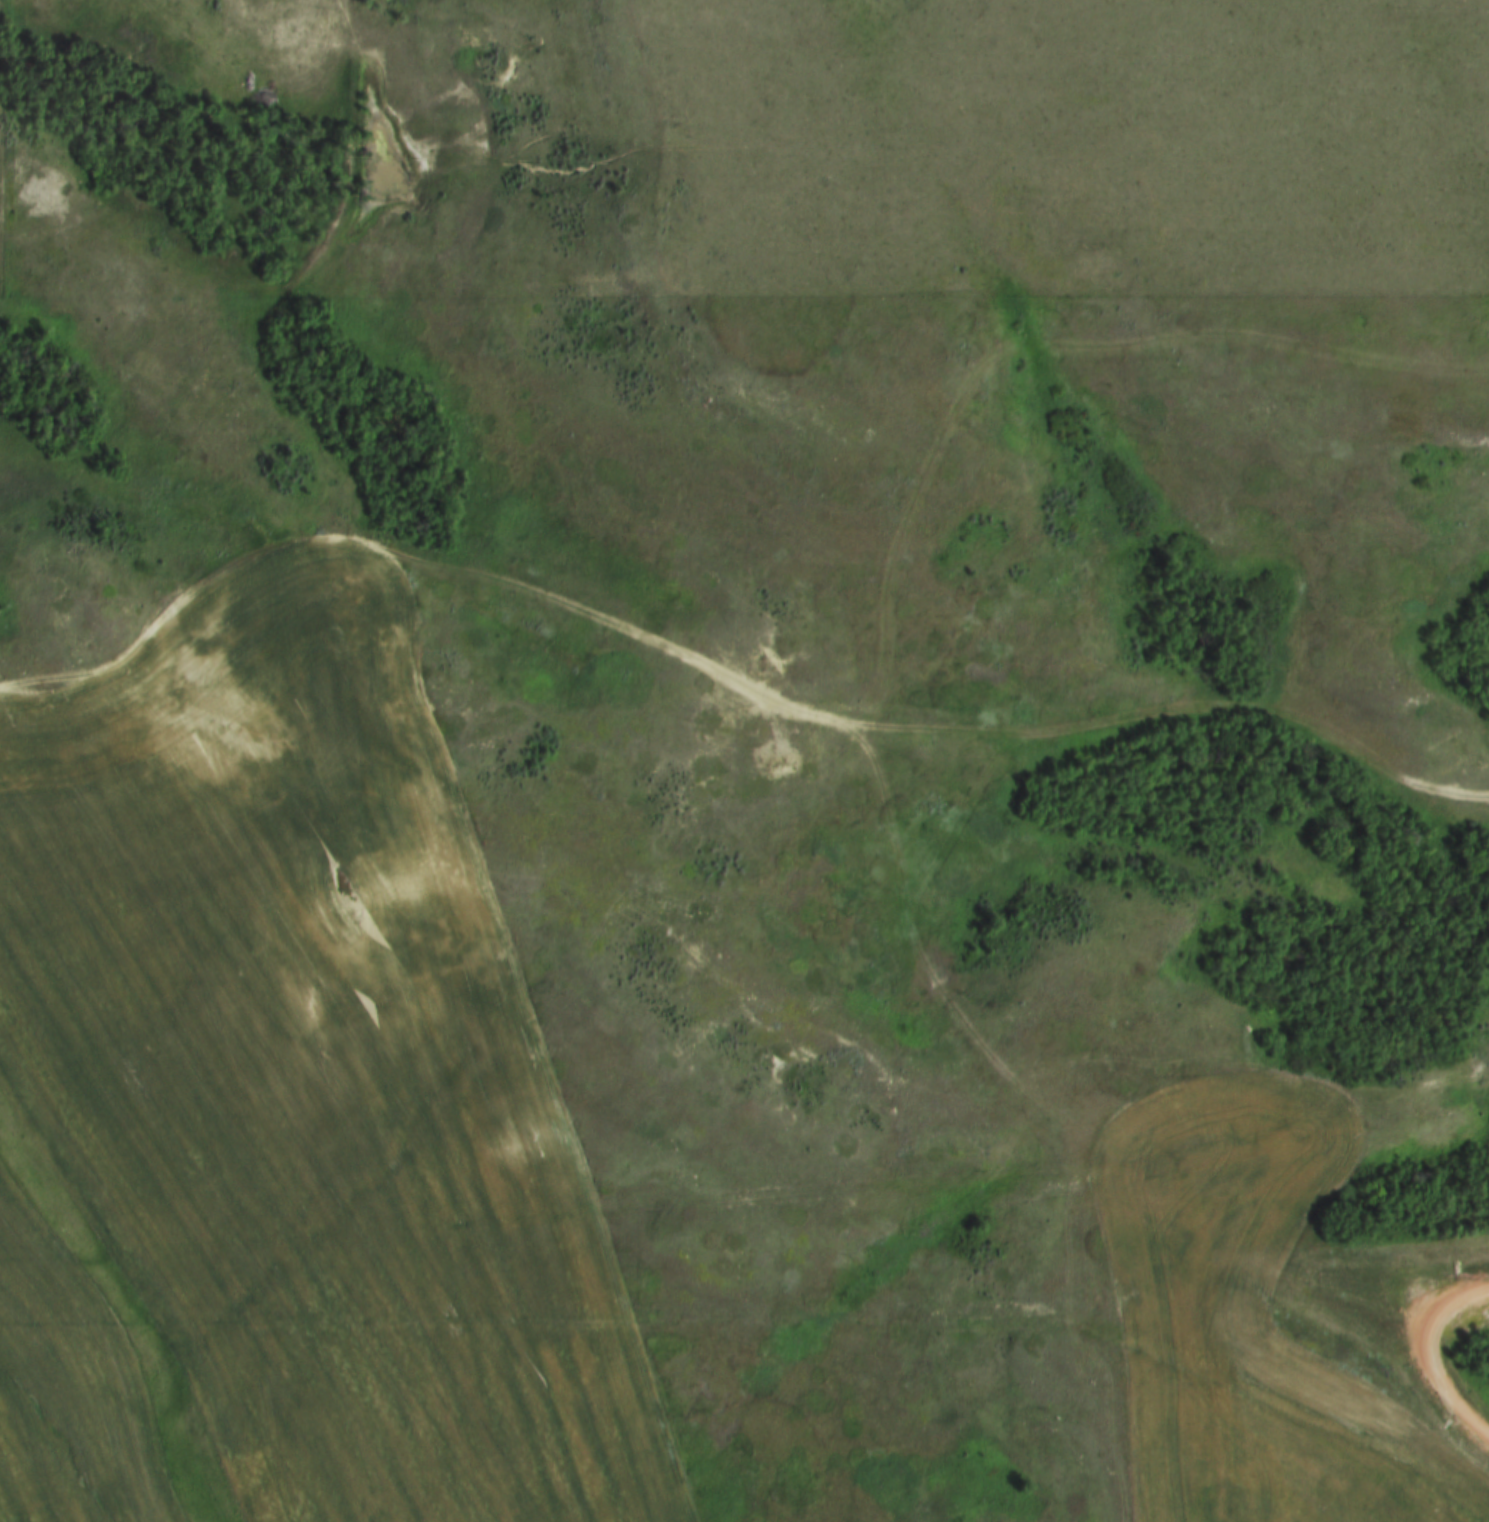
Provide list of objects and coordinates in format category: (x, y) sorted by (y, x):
road: (725, 672)
road: (1433, 1354)

